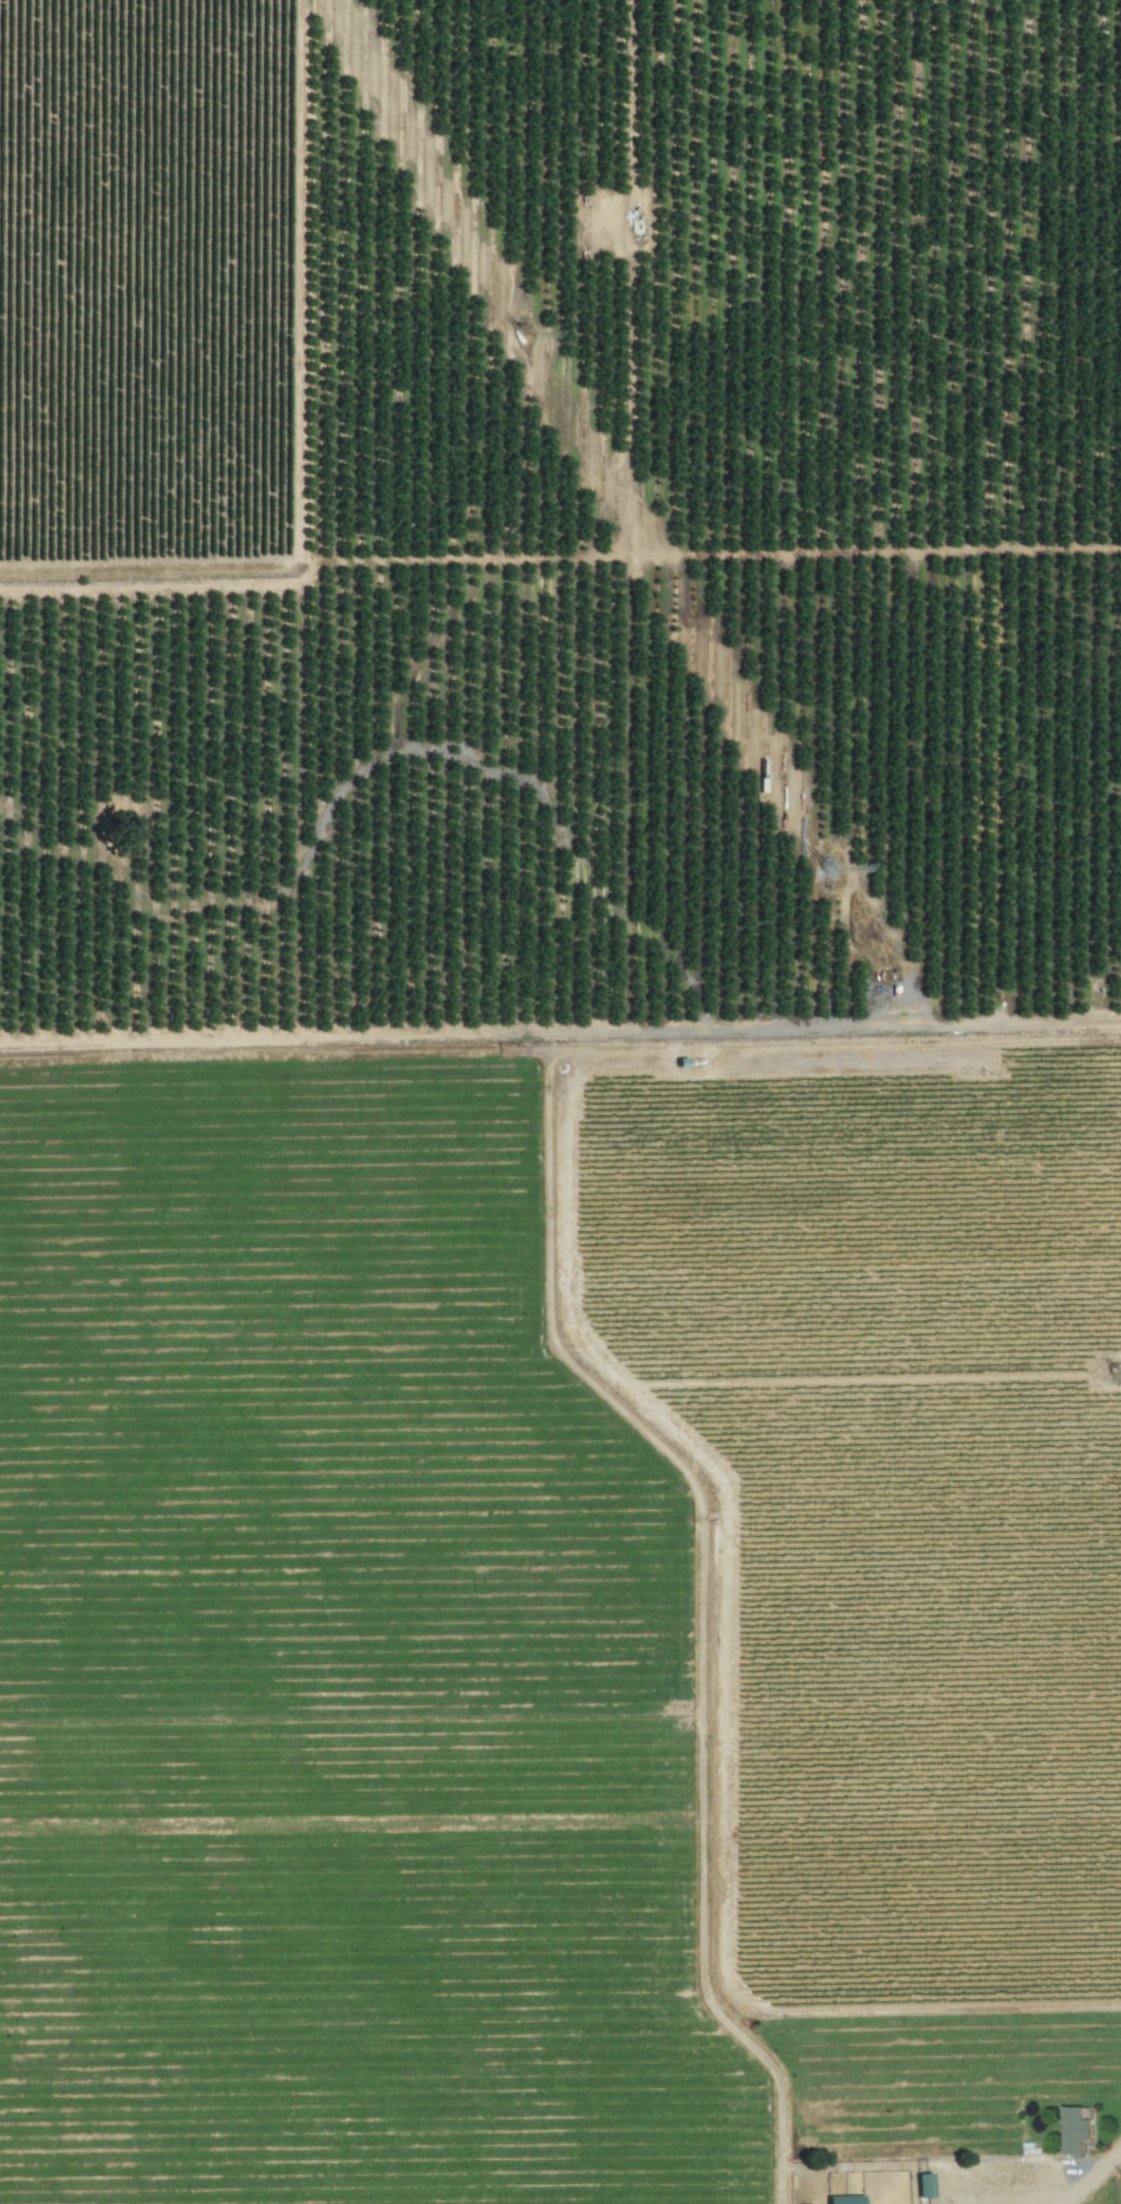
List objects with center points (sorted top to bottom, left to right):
road: (642, 328)
power tower: (532, 337)
road: (883, 552)
power tower: (836, 867)
road: (1058, 1020)
building: (1076, 2131)
road: (1093, 2174)
building: (926, 2184)
road: (1016, 2197)
building: (847, 2199)

